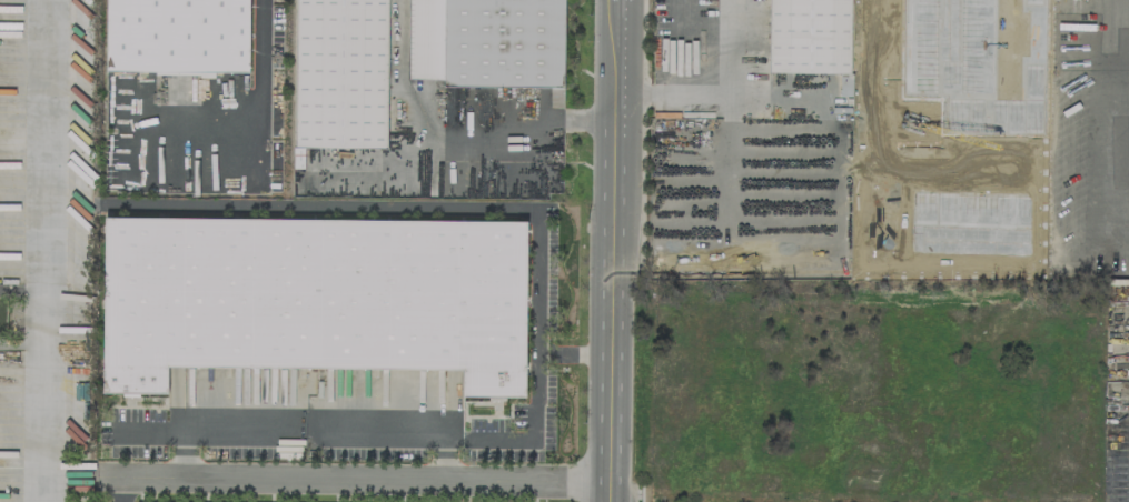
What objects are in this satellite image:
road: (873, 17)
building: (175, 33)
building: (808, 36)
building: (491, 41)
road: (259, 59)
building: (973, 60)
building: (338, 71)
road: (722, 96)
road: (578, 121)
road: (408, 124)
road: (1090, 132)
road: (426, 207)
road: (48, 250)
road: (613, 250)
building: (311, 297)
road: (360, 423)
road: (353, 476)

